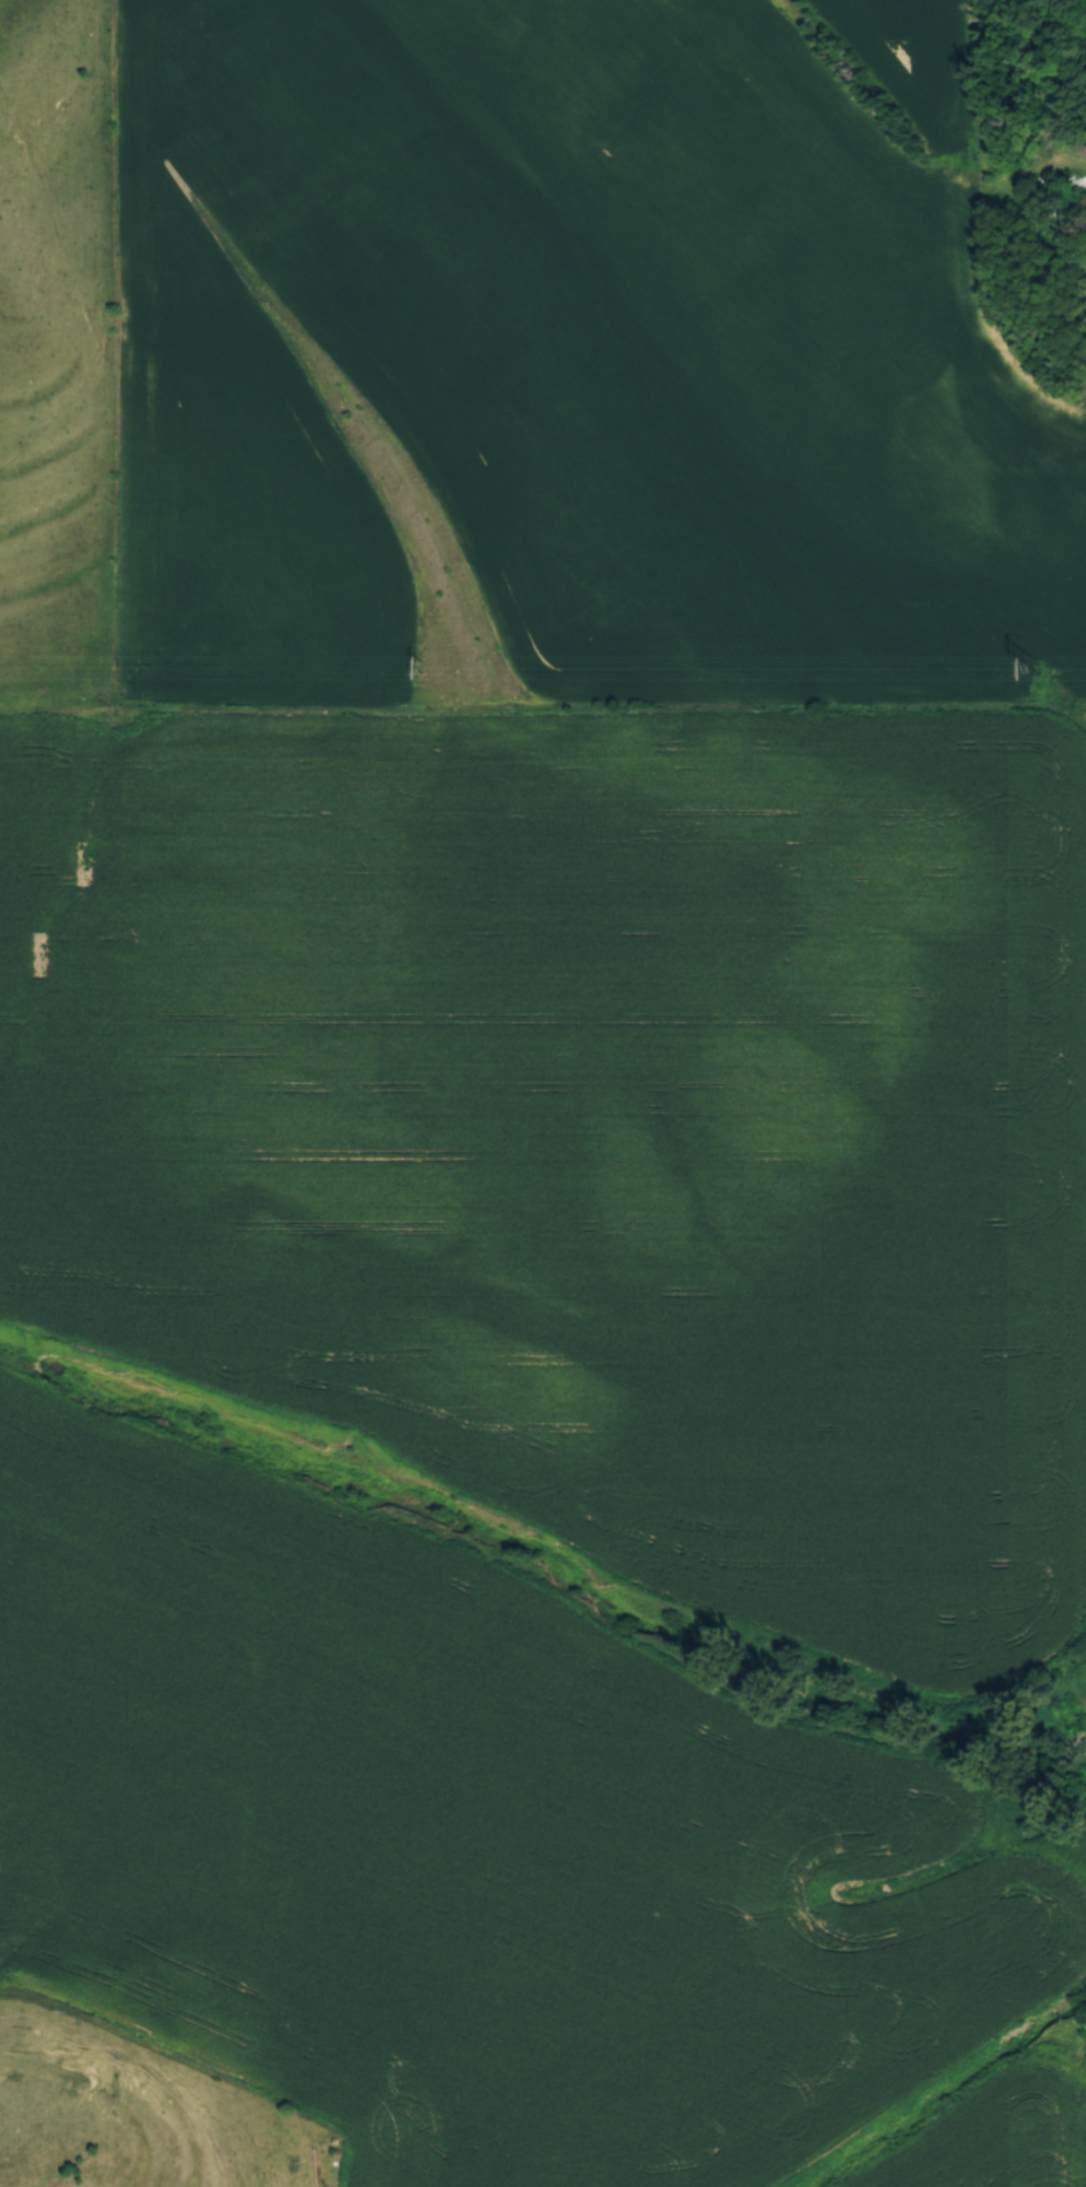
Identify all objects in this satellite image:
power tower: (424, 663)
power tower: (1041, 665)

